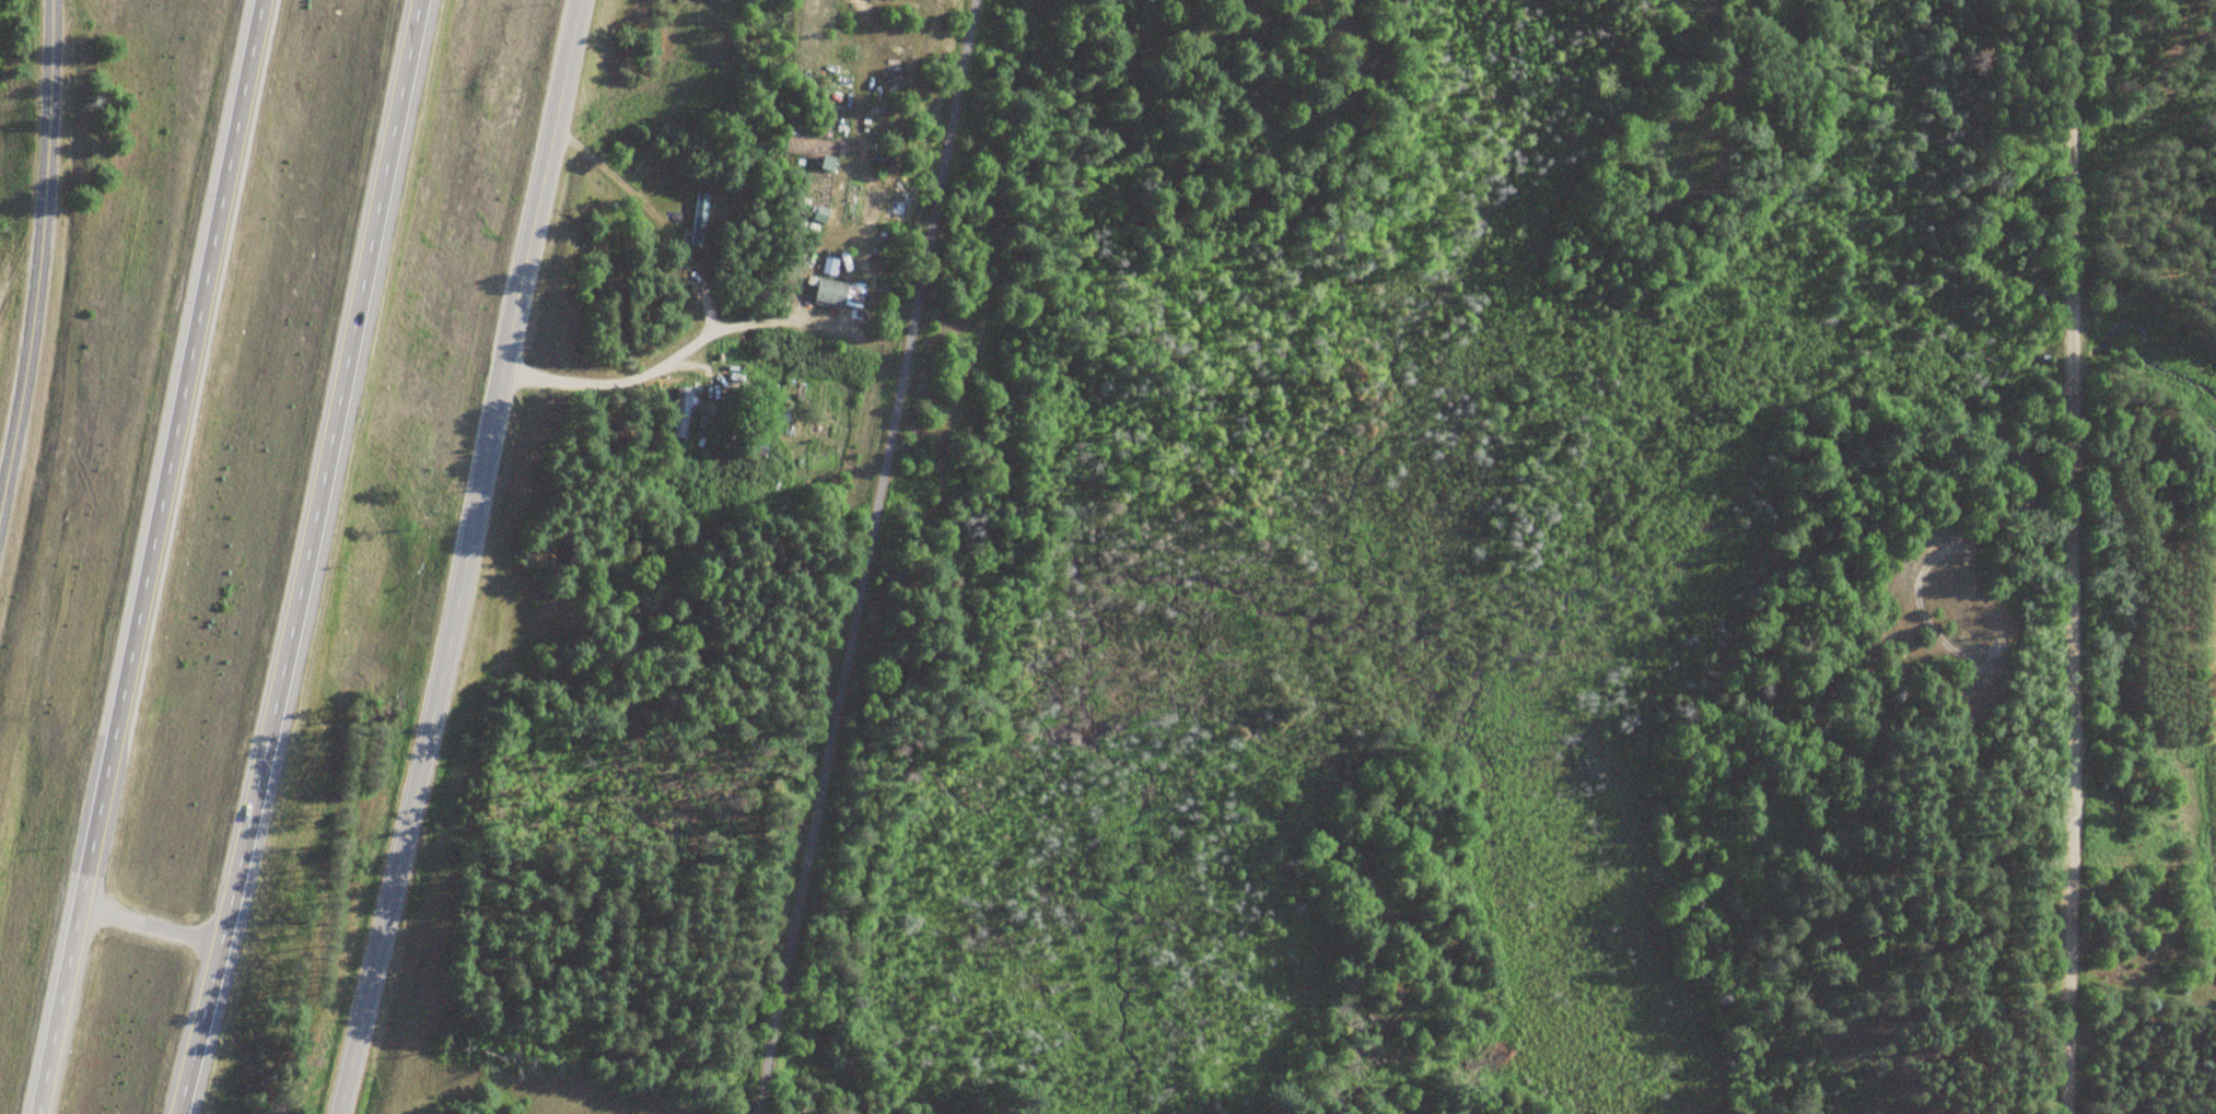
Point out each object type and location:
road: (48, 159)
building: (700, 220)
building: (875, 245)
building: (839, 293)
building: (680, 411)
road: (19, 423)
road: (145, 555)
road: (861, 556)
road: (2069, 556)
road: (306, 558)
road: (465, 558)
road: (147, 925)

